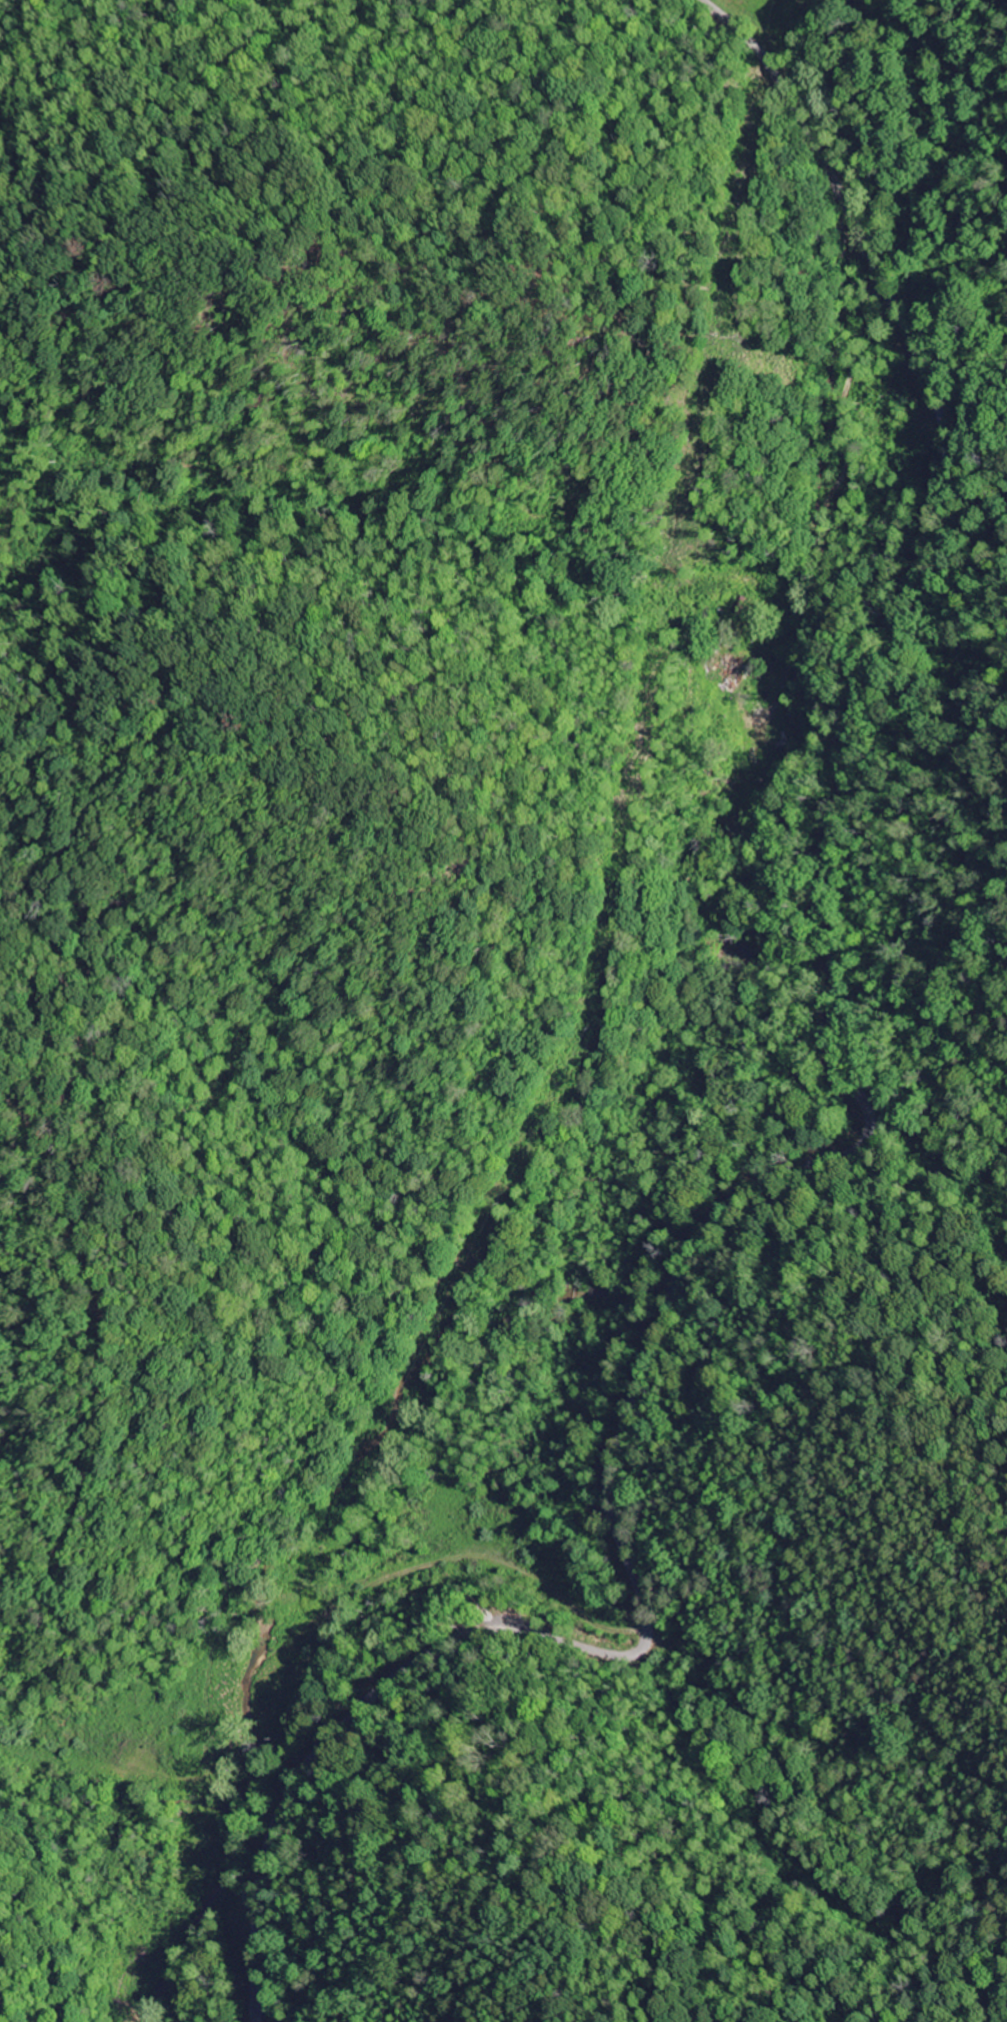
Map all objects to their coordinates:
road: (848, 1153)

